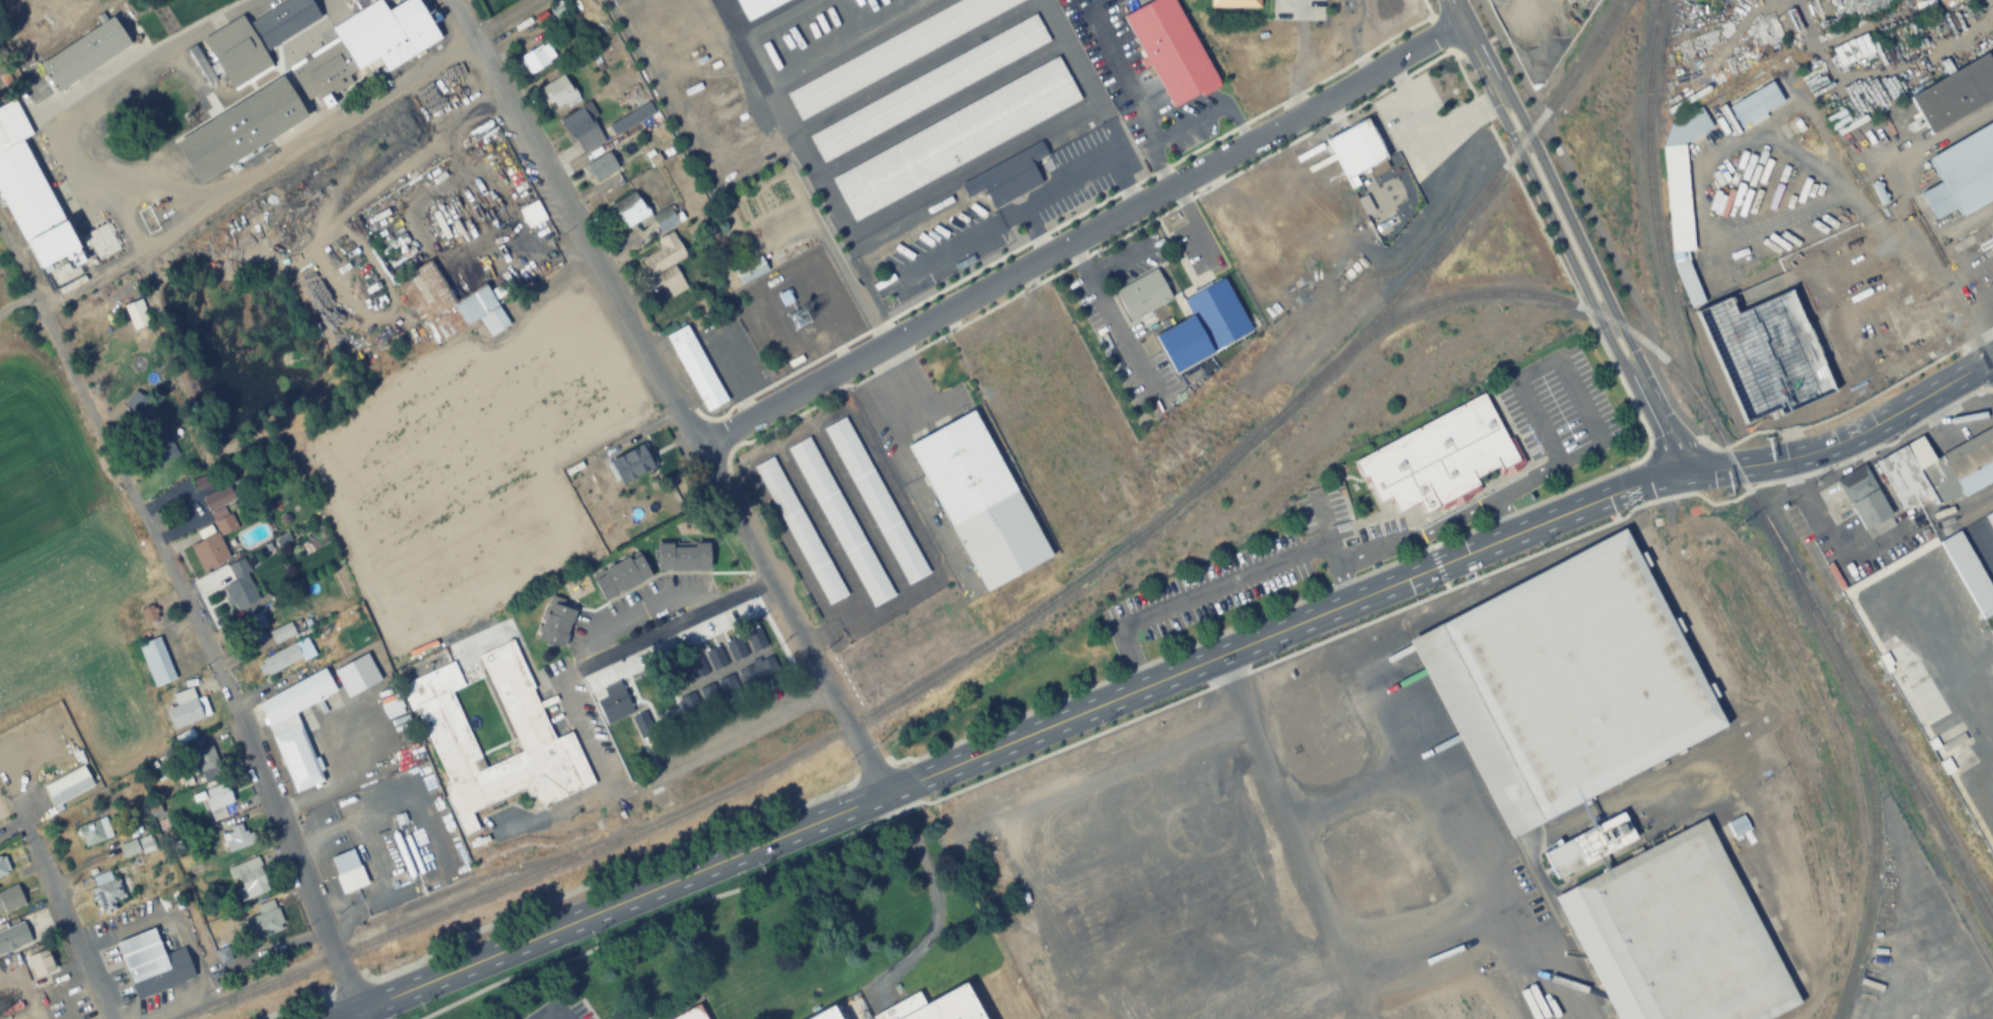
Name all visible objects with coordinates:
building: (1945, 2)
building: (1234, 3)
building: (559, 12)
building: (283, 20)
building: (1169, 48)
building: (348, 50)
building: (1852, 50)
building: (97, 51)
building: (236, 51)
building: (895, 51)
road: (1507, 51)
building: (534, 59)
building: (929, 87)
building: (560, 91)
building: (1955, 92)
building: (1755, 102)
road: (1542, 114)
building: (627, 120)
building: (582, 129)
building: (956, 138)
building: (1355, 147)
building: (602, 167)
building: (1963, 174)
building: (1007, 177)
building: (33, 196)
building: (1681, 196)
building: (532, 214)
road: (1600, 227)
road: (1082, 234)
road: (1571, 237)
building: (401, 255)
building: (666, 263)
building: (750, 270)
building: (885, 288)
building: (1141, 295)
railway: (1526, 295)
building: (448, 306)
building: (137, 315)
building: (1203, 326)
road: (1650, 342)
road: (1992, 359)
building: (696, 368)
road: (671, 397)
road: (1670, 402)
building: (149, 428)
road: (1674, 442)
building: (1438, 457)
building: (631, 464)
building: (1937, 471)
railway: (1744, 482)
building: (202, 483)
building: (1862, 498)
building: (875, 500)
building: (979, 500)
building: (218, 519)
building: (1990, 519)
building: (840, 521)
building: (800, 530)
building: (683, 557)
building: (1969, 573)
building: (621, 576)
building: (239, 587)
building: (148, 614)
road: (189, 619)
building: (555, 623)
building: (255, 628)
building: (282, 633)
railway: (992, 638)
building: (755, 639)
building: (735, 648)
building: (286, 656)
building: (715, 657)
building: (156, 661)
building: (696, 667)
building: (758, 672)
building: (678, 674)
road: (1166, 677)
building: (1571, 680)
building: (644, 687)
building: (728, 687)
building: (709, 694)
building: (614, 702)
building: (690, 705)
building: (187, 708)
building: (296, 725)
building: (642, 725)
building: (448, 735)
road: (592, 738)
building: (1947, 746)
building: (206, 758)
railway: (1864, 758)
building: (68, 786)
building: (218, 797)
railway: (1503, 815)
building: (1736, 826)
building: (94, 832)
road: (1297, 835)
building: (238, 838)
building: (1591, 846)
building: (3, 865)
building: (348, 871)
railway: (482, 876)
building: (248, 878)
building: (107, 892)
building: (11, 898)
building: (264, 921)
road: (74, 929)
building: (1676, 935)
building: (13, 936)
building: (153, 963)
building: (41, 964)
building: (1976, 992)
building: (950, 1006)
road: (552, 1011)
building: (691, 1014)
building: (826, 1014)

